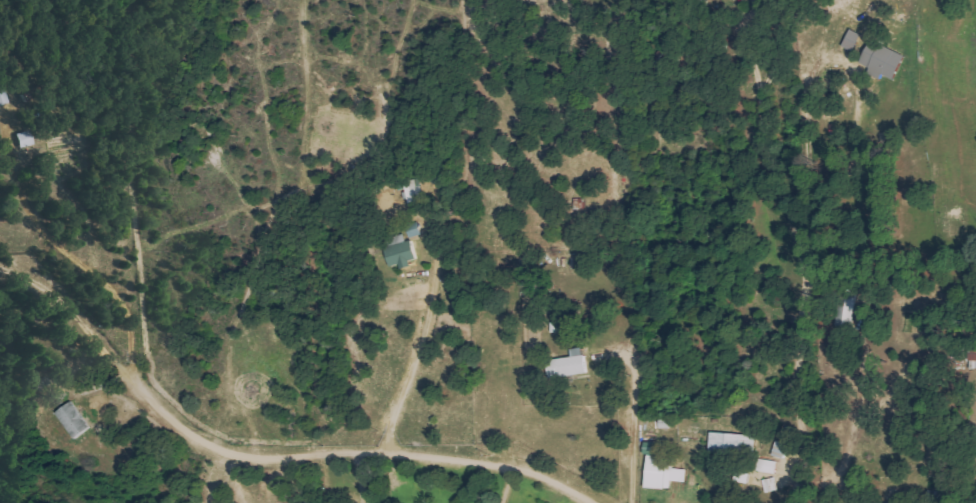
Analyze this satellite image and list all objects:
building: (884, 60)
building: (402, 251)
building: (569, 364)
building: (74, 419)
building: (734, 443)
building: (651, 448)
road: (267, 457)
building: (768, 466)
building: (664, 472)
road: (807, 488)

